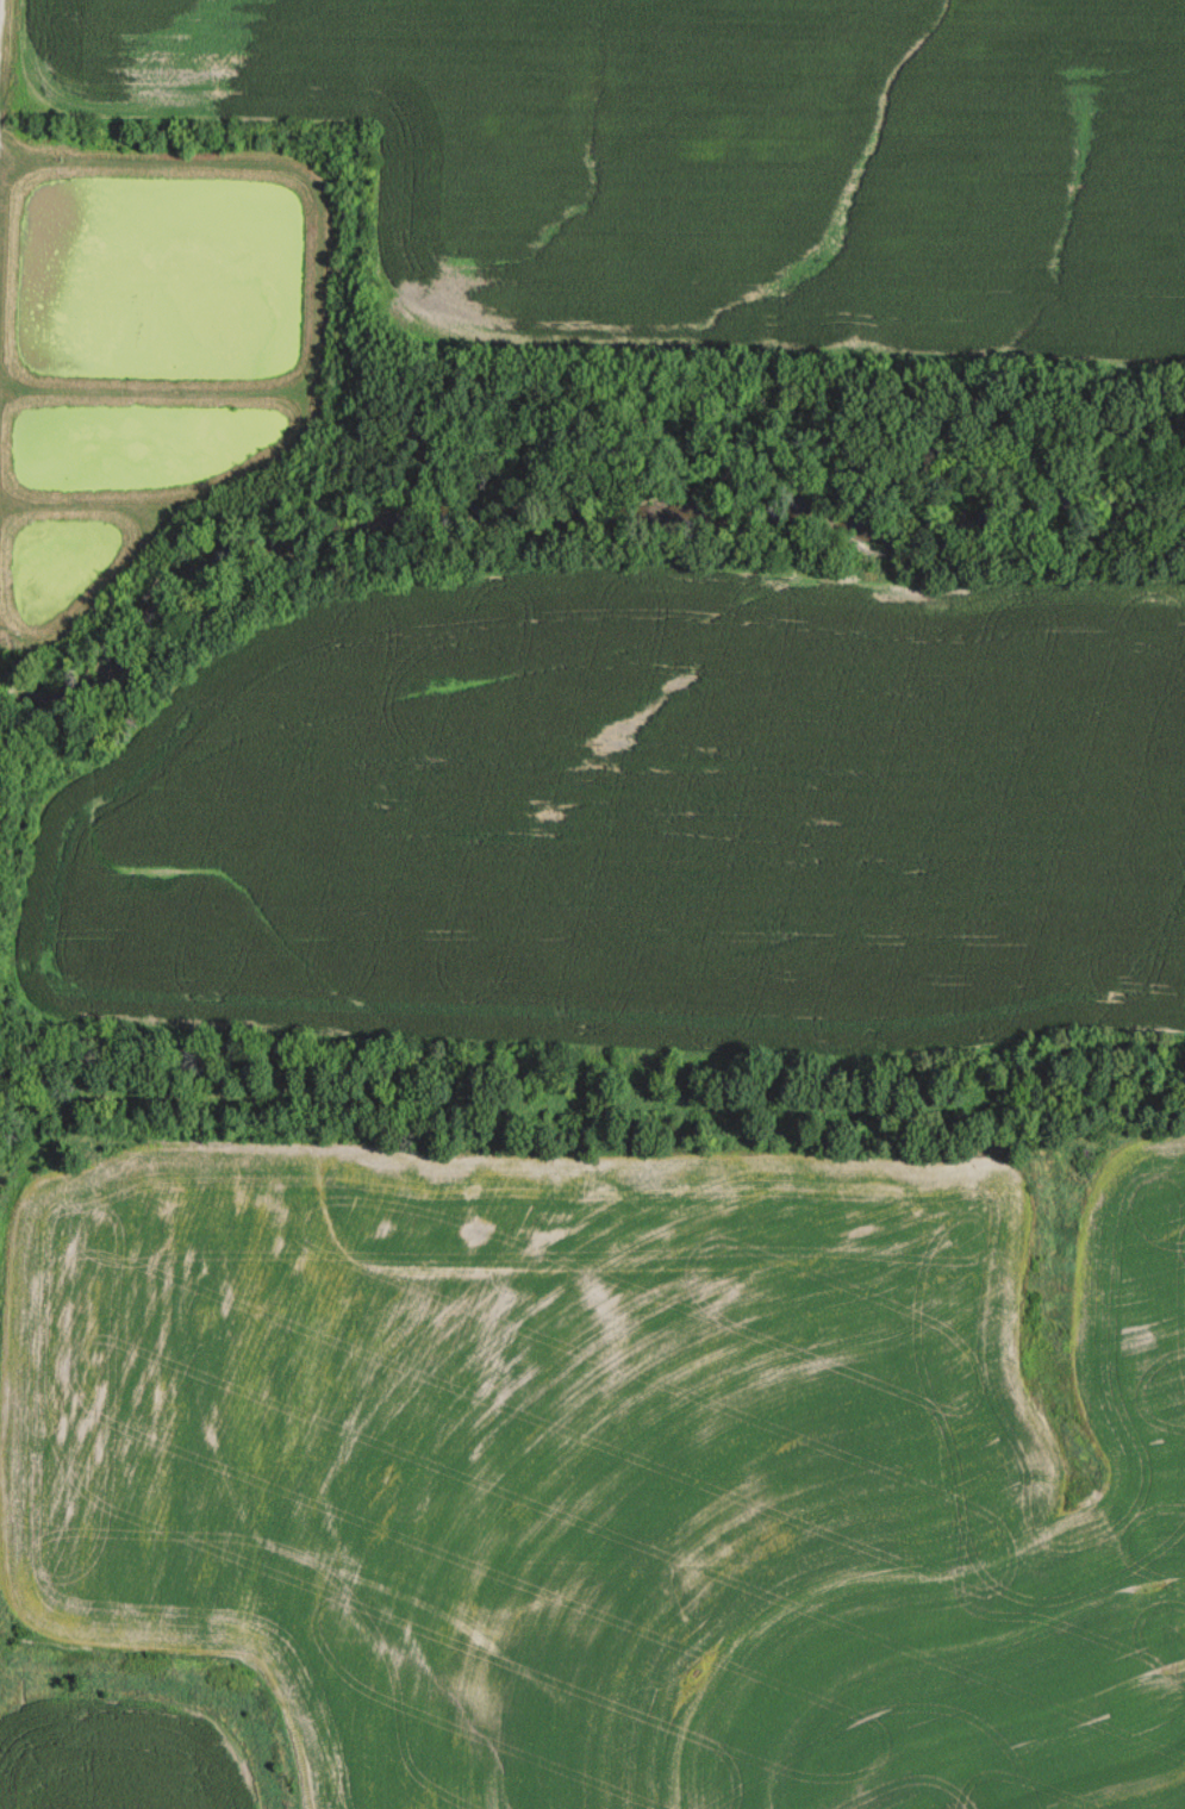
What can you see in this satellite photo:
road: (1, 30)

